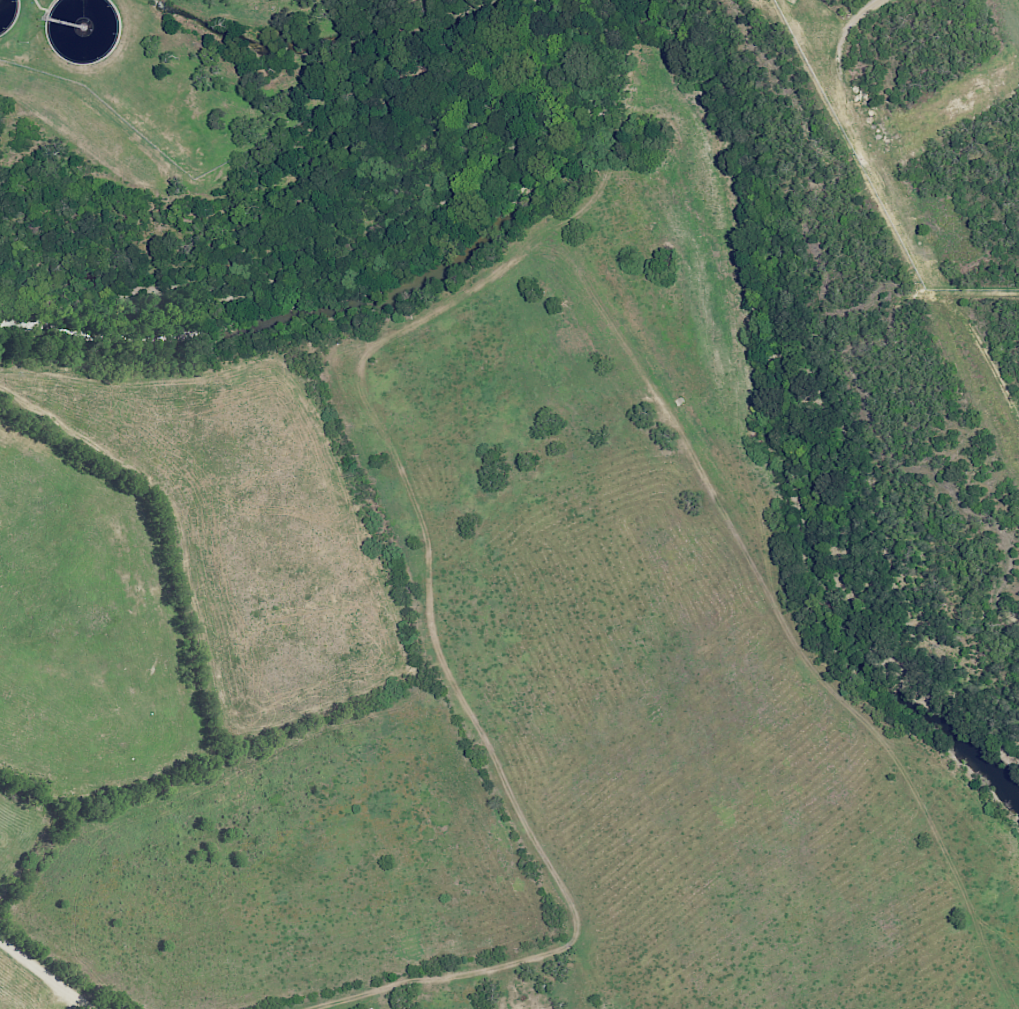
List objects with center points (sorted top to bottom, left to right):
wastewater plant: (99, 57)
road: (47, 974)

